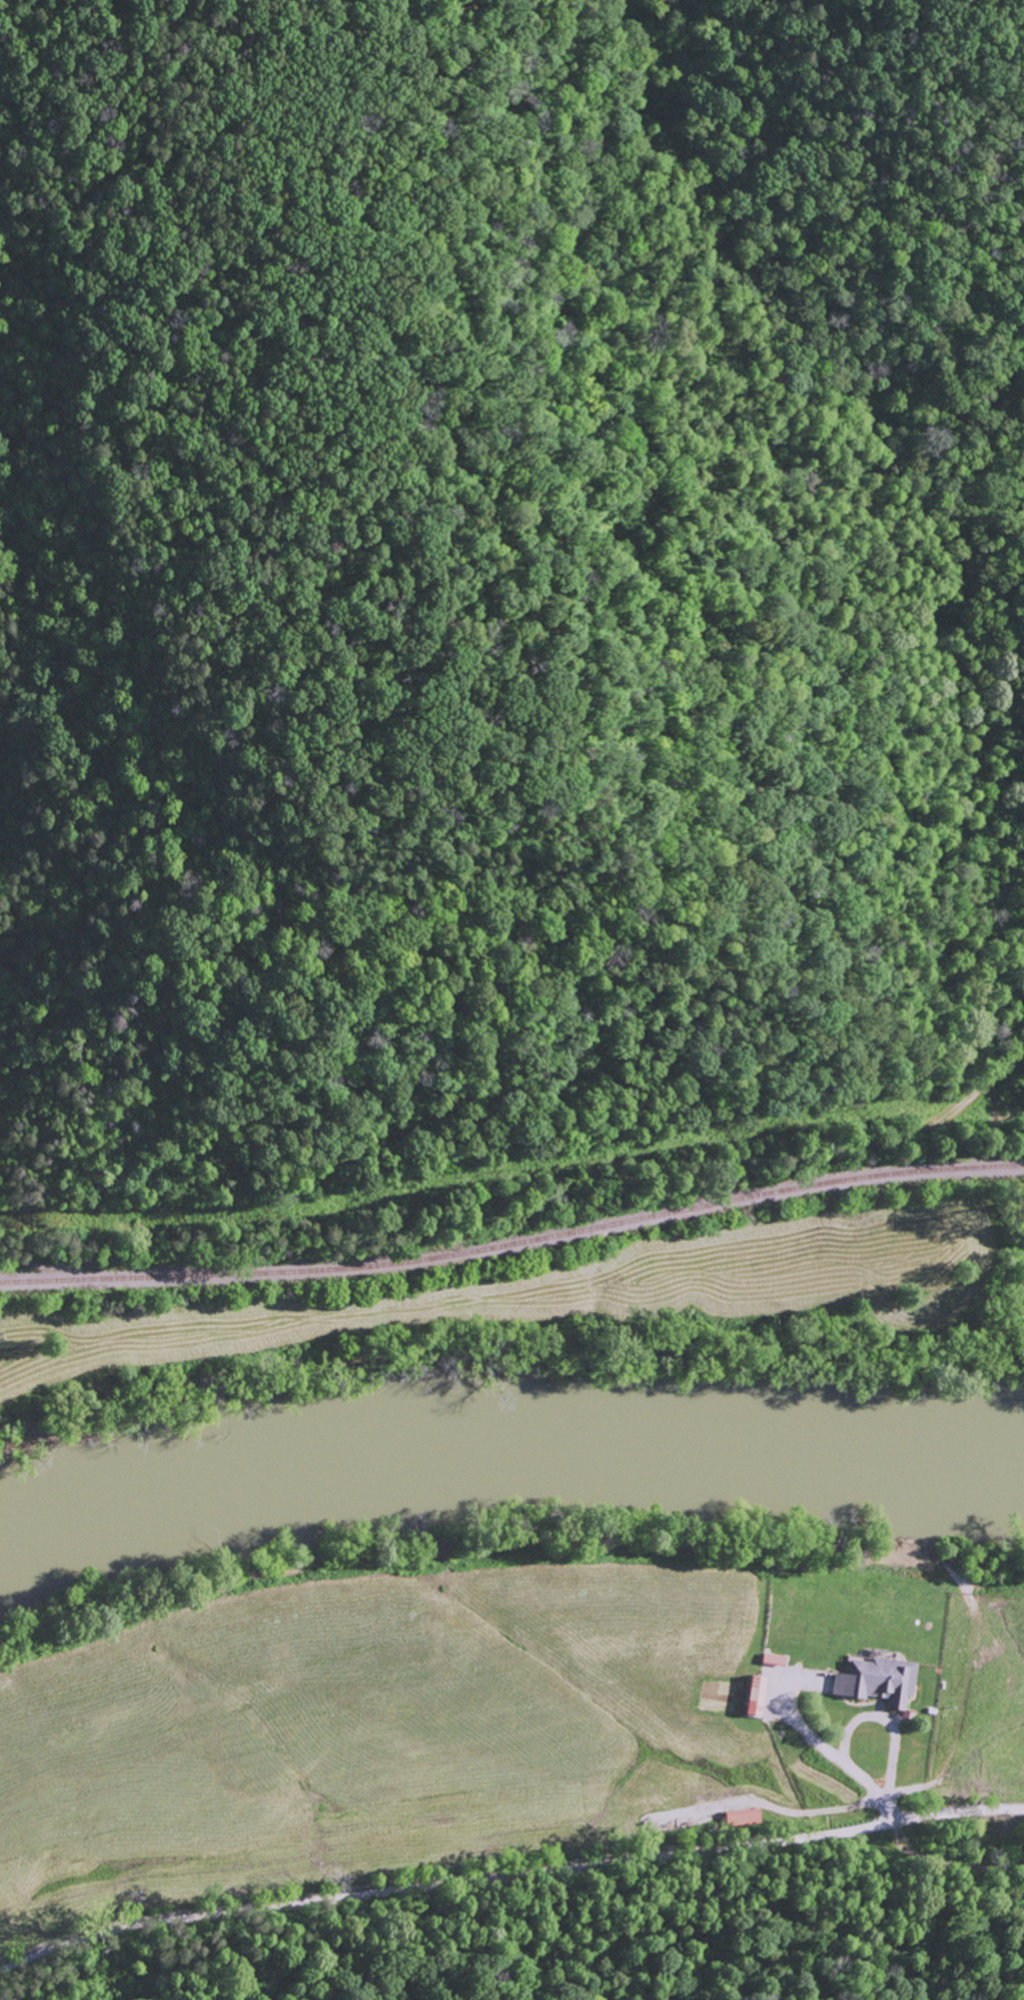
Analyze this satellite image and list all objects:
railway: (514, 1277)
river: (506, 1444)
building: (875, 1680)
building: (753, 1695)
building: (743, 1817)
road: (510, 1885)

